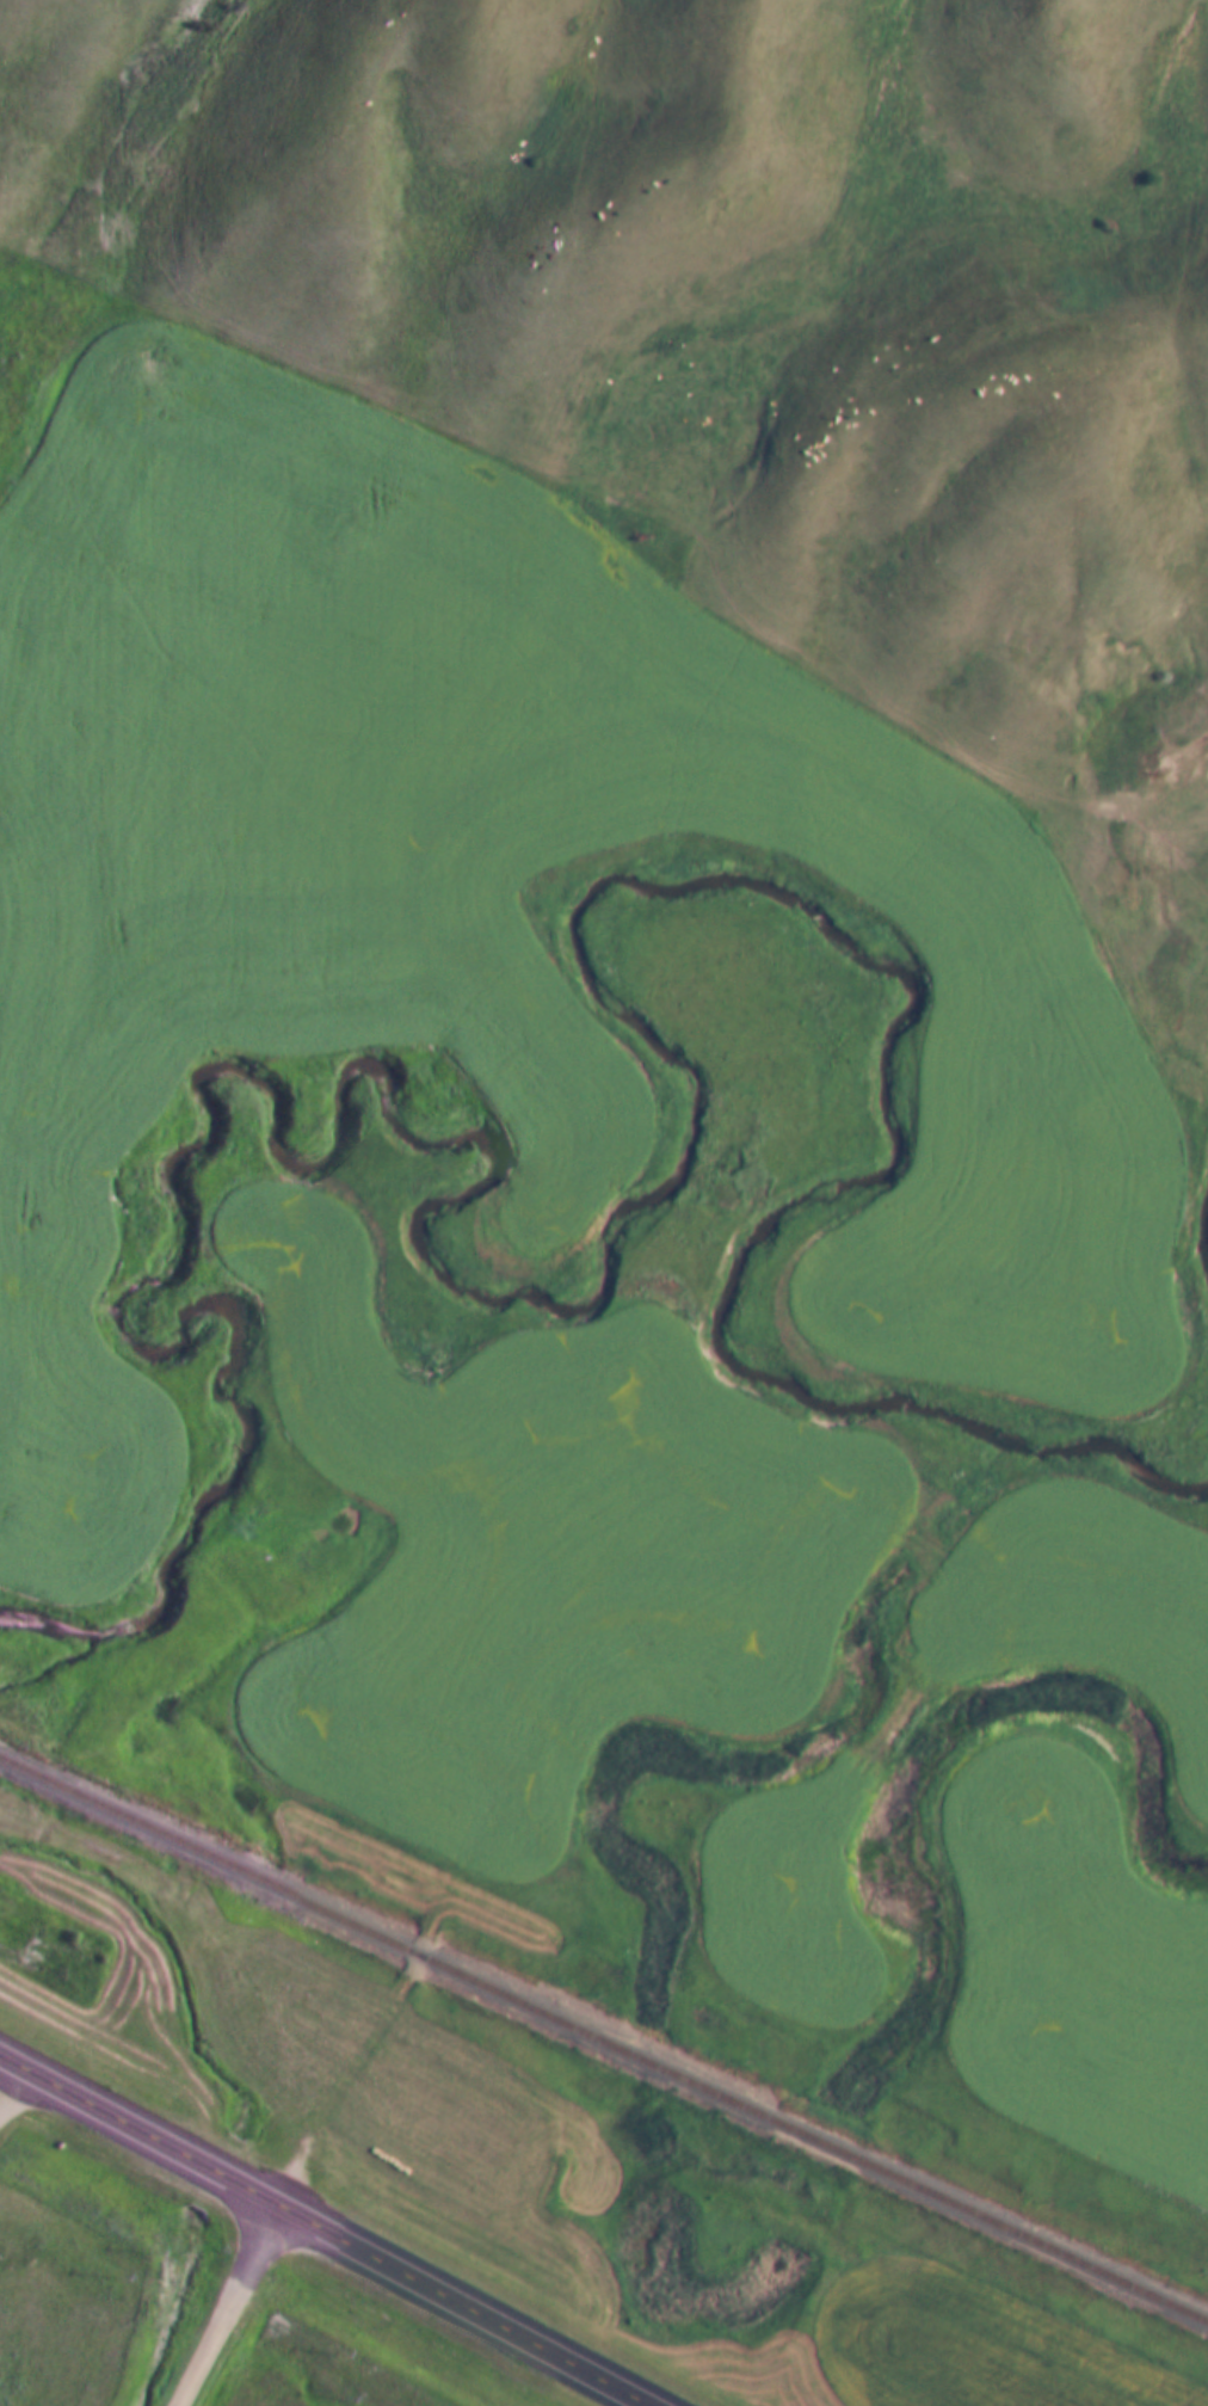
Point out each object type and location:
river: (596, 1255)
road: (383, 2027)
railway: (603, 2041)
road: (7, 2080)
road: (327, 2232)
road: (229, 2307)

